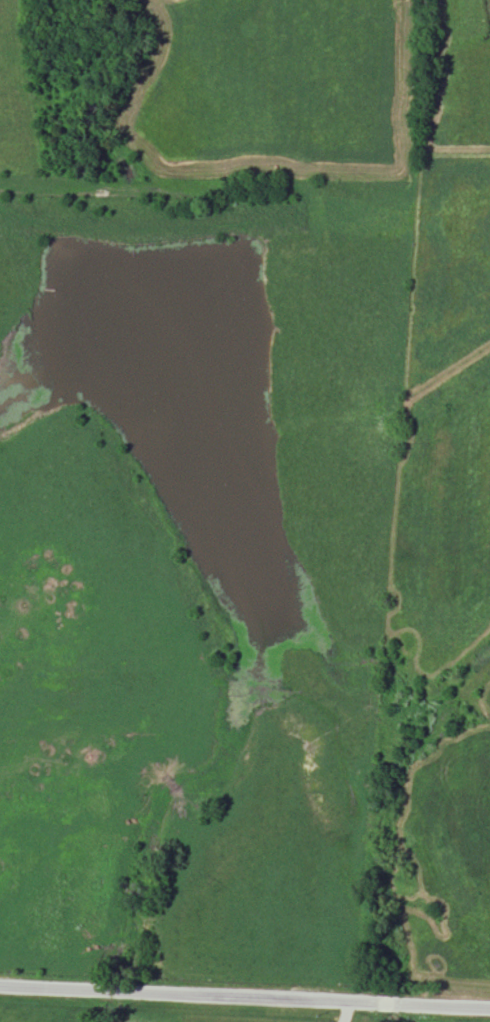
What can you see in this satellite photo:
road: (244, 999)
road: (344, 1012)

